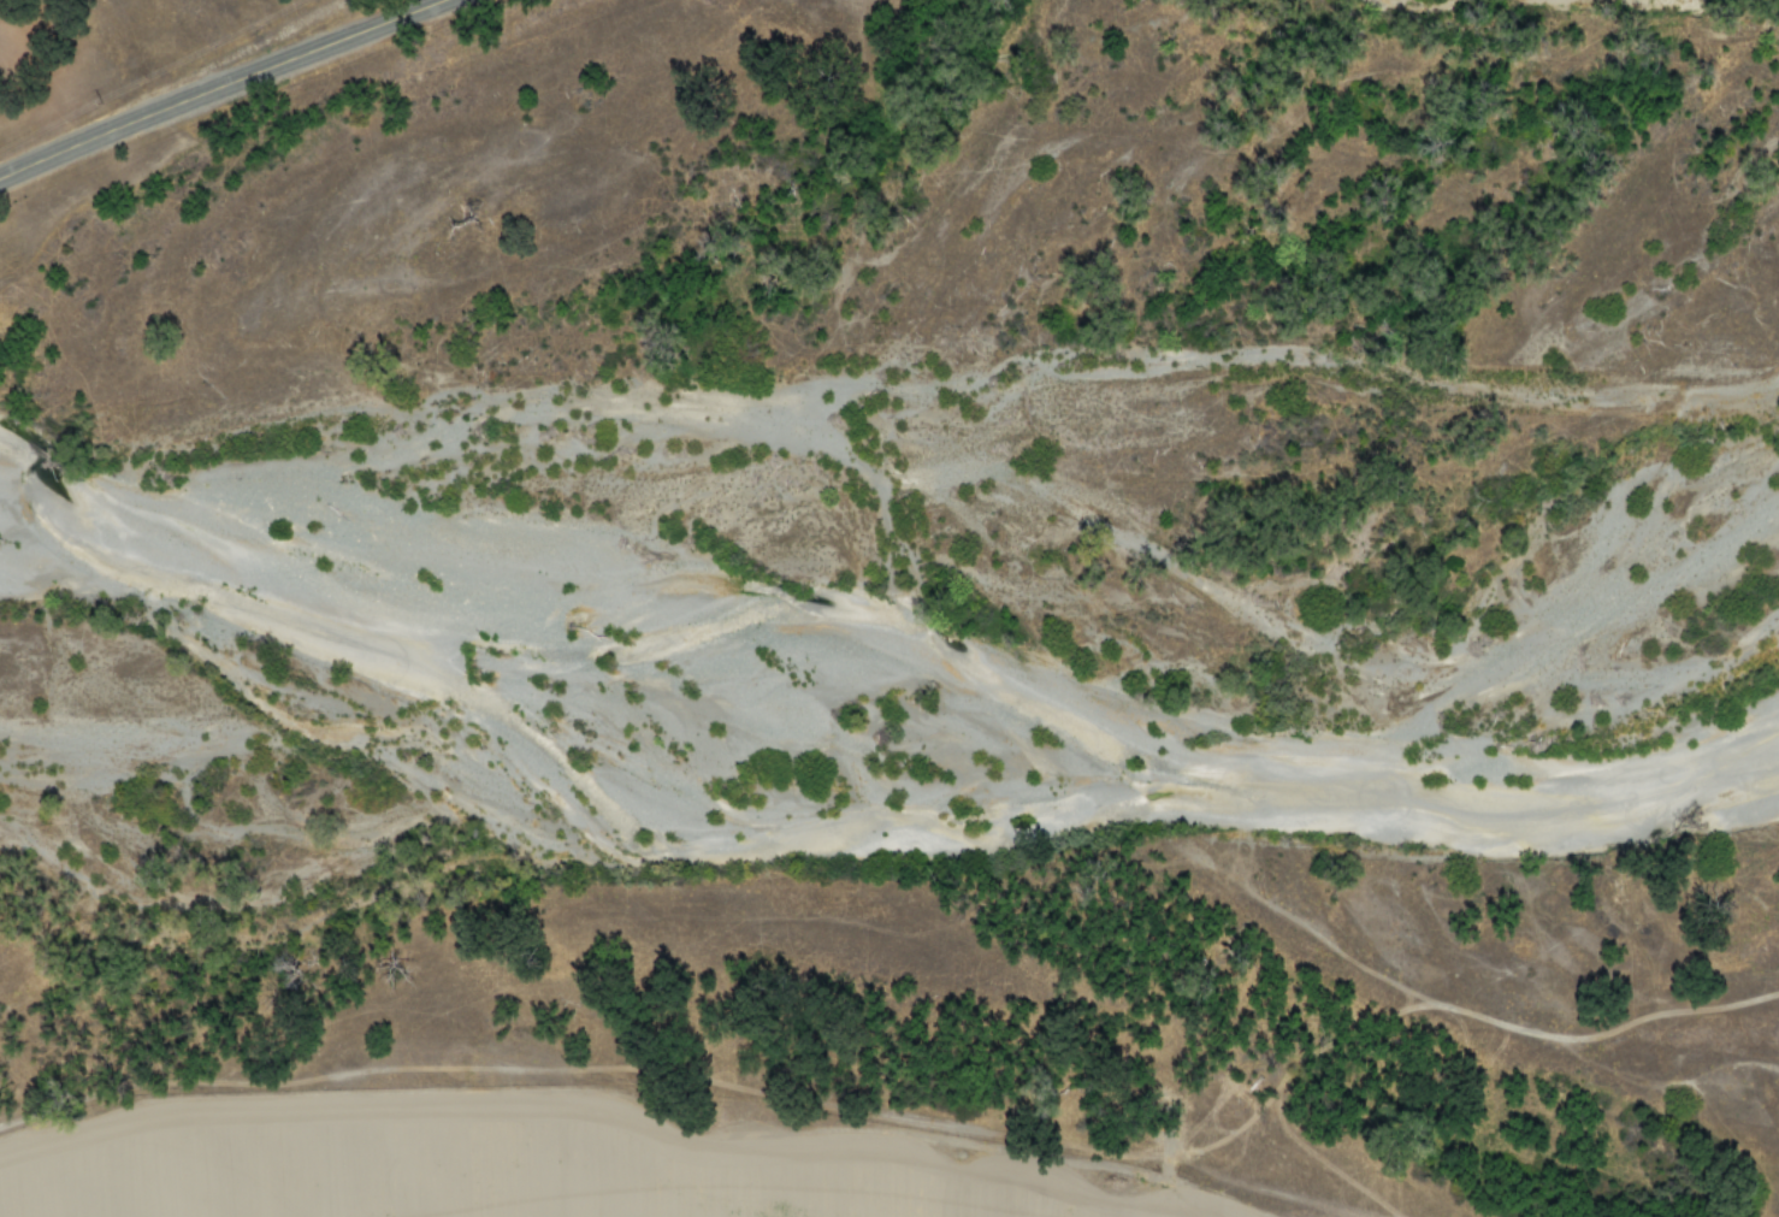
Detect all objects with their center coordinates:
river: (1614, 4)
road: (220, 84)
river: (53, 572)
river: (880, 846)

